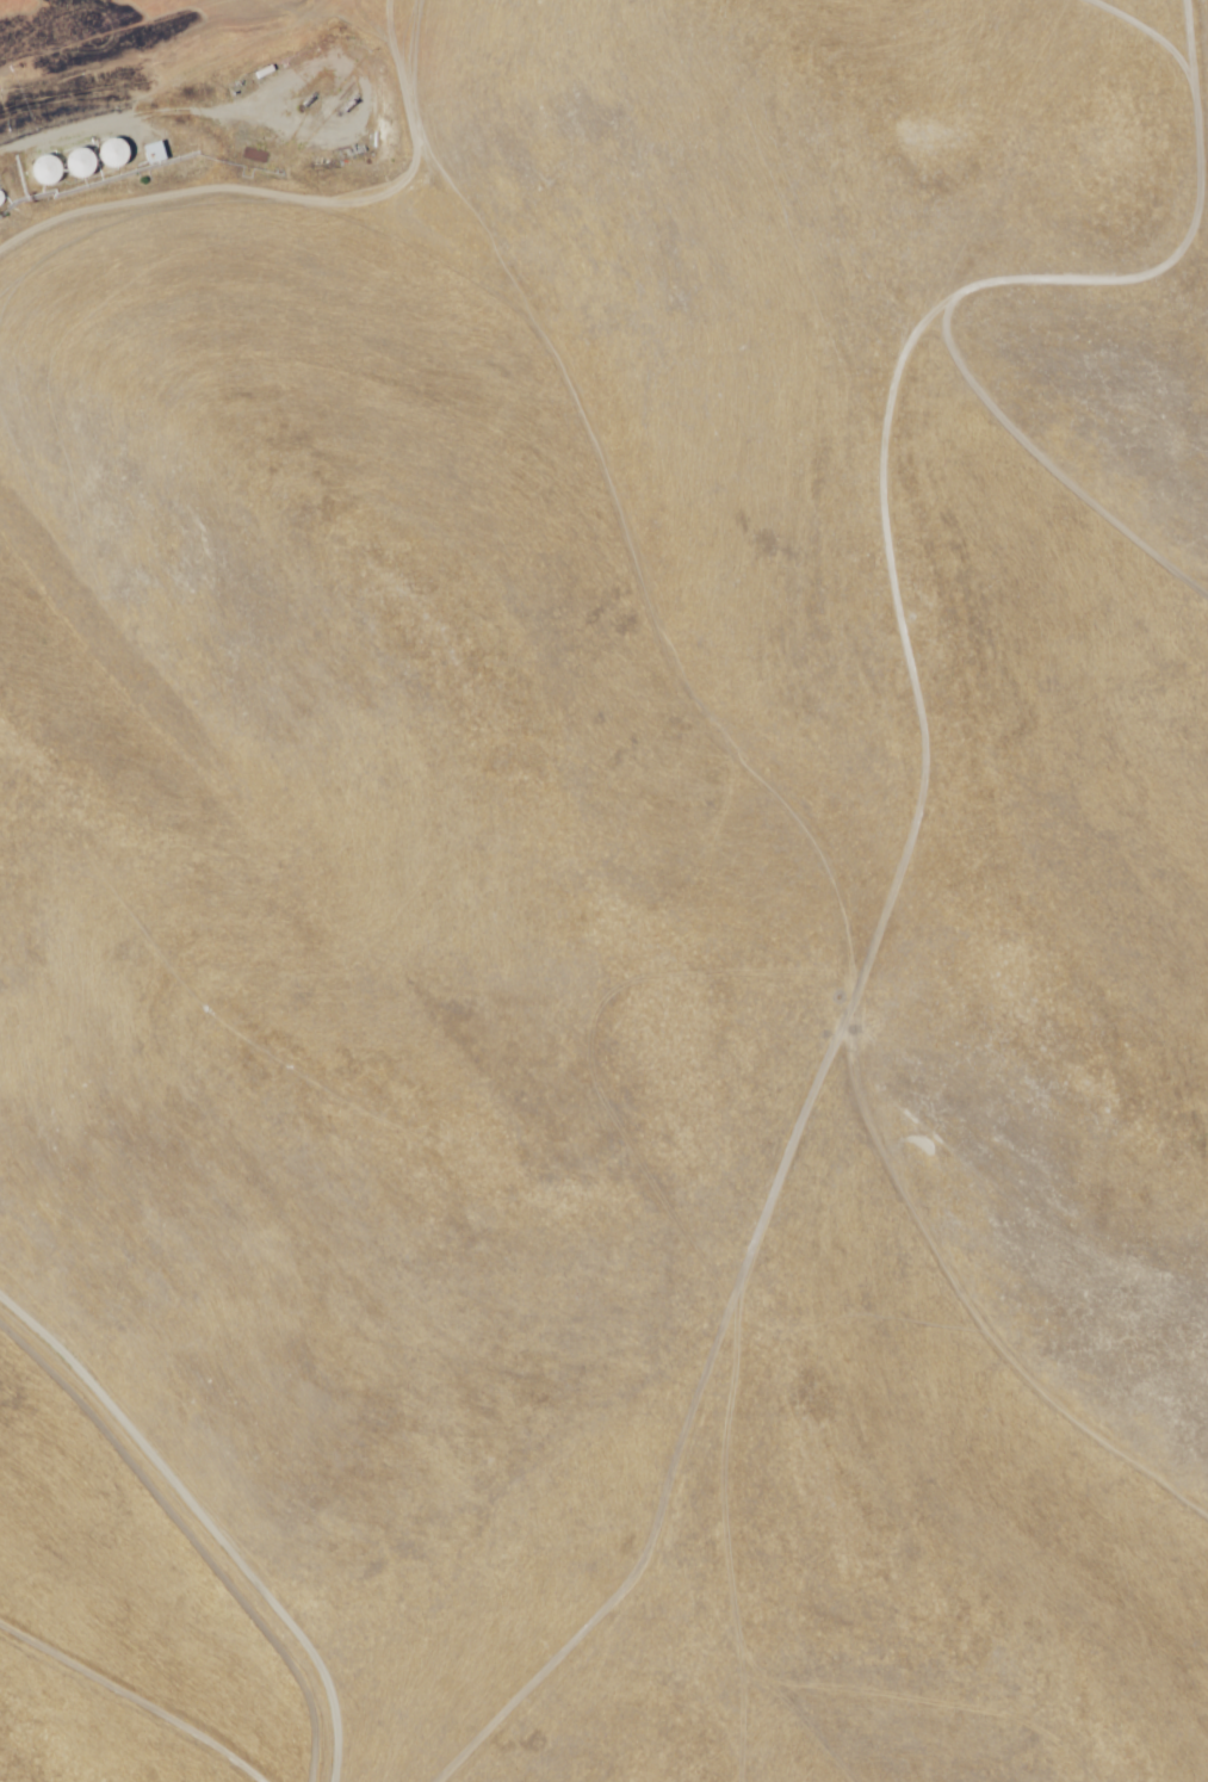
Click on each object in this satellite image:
road: (165, 134)
building: (143, 149)
road: (160, 1603)

